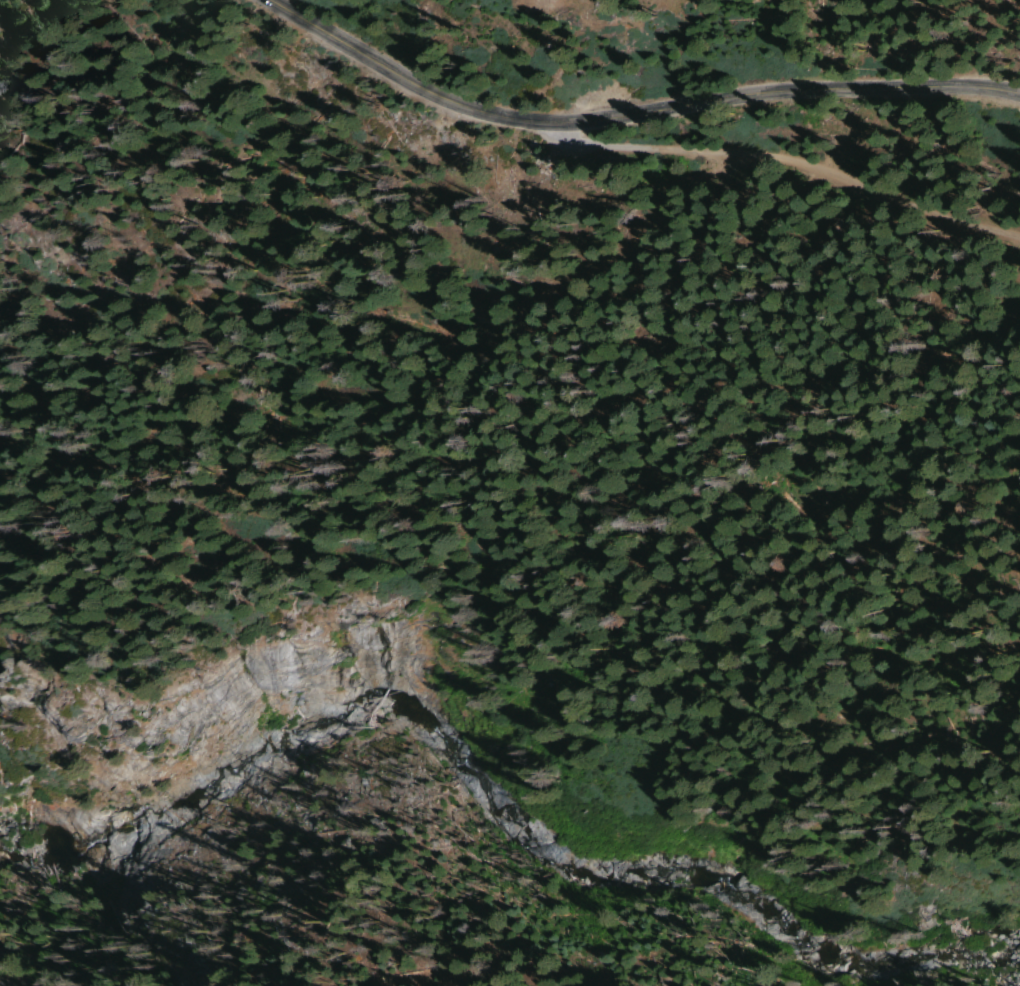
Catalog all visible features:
road: (965, 90)
road: (589, 112)
road: (787, 160)

